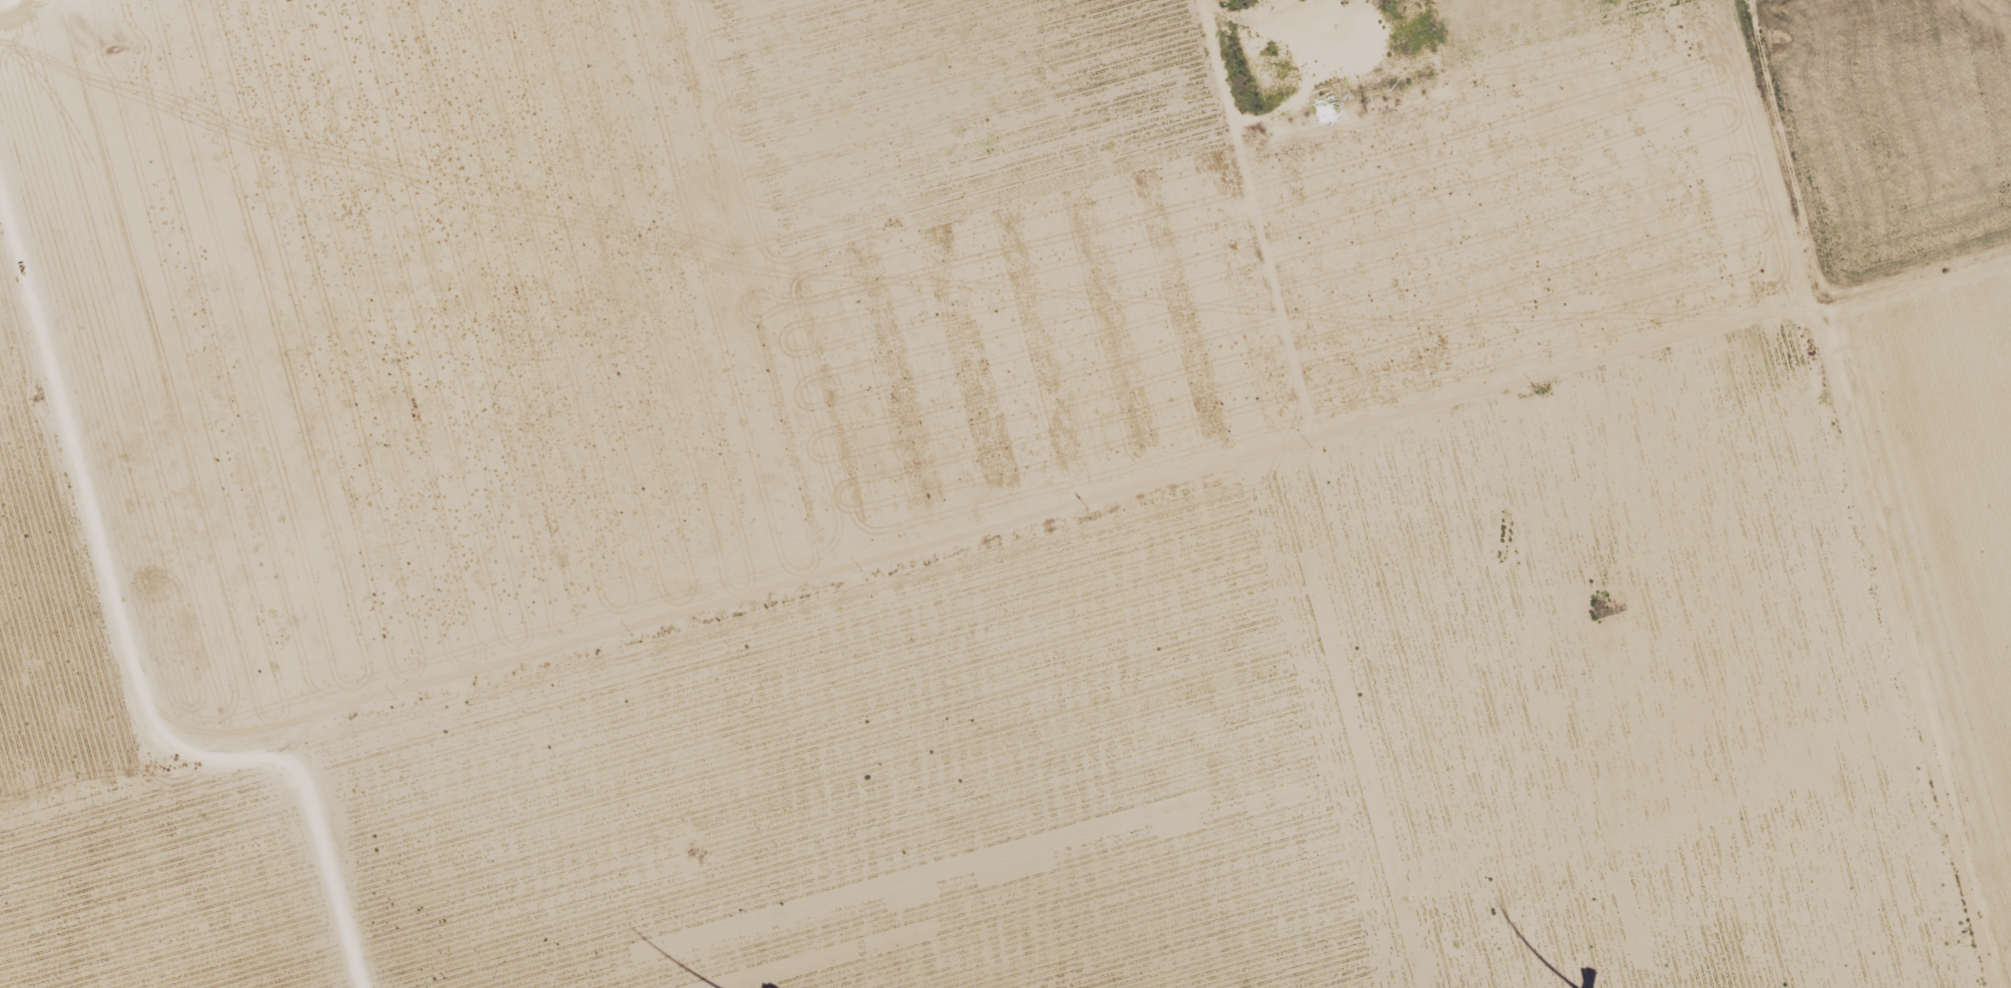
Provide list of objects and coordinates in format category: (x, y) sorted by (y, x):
road: (221, 184)

